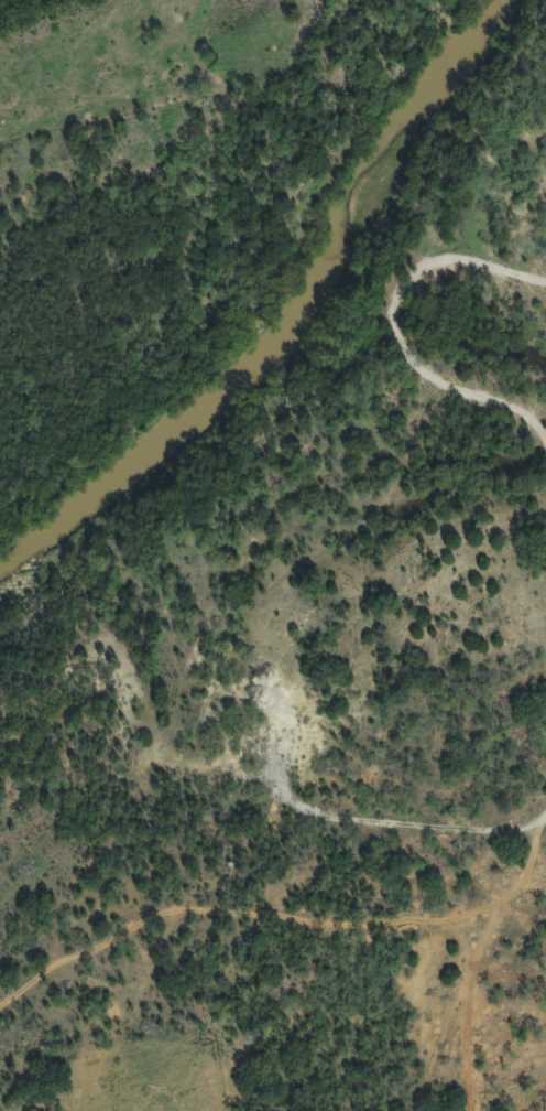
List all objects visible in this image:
road: (154, 77)

